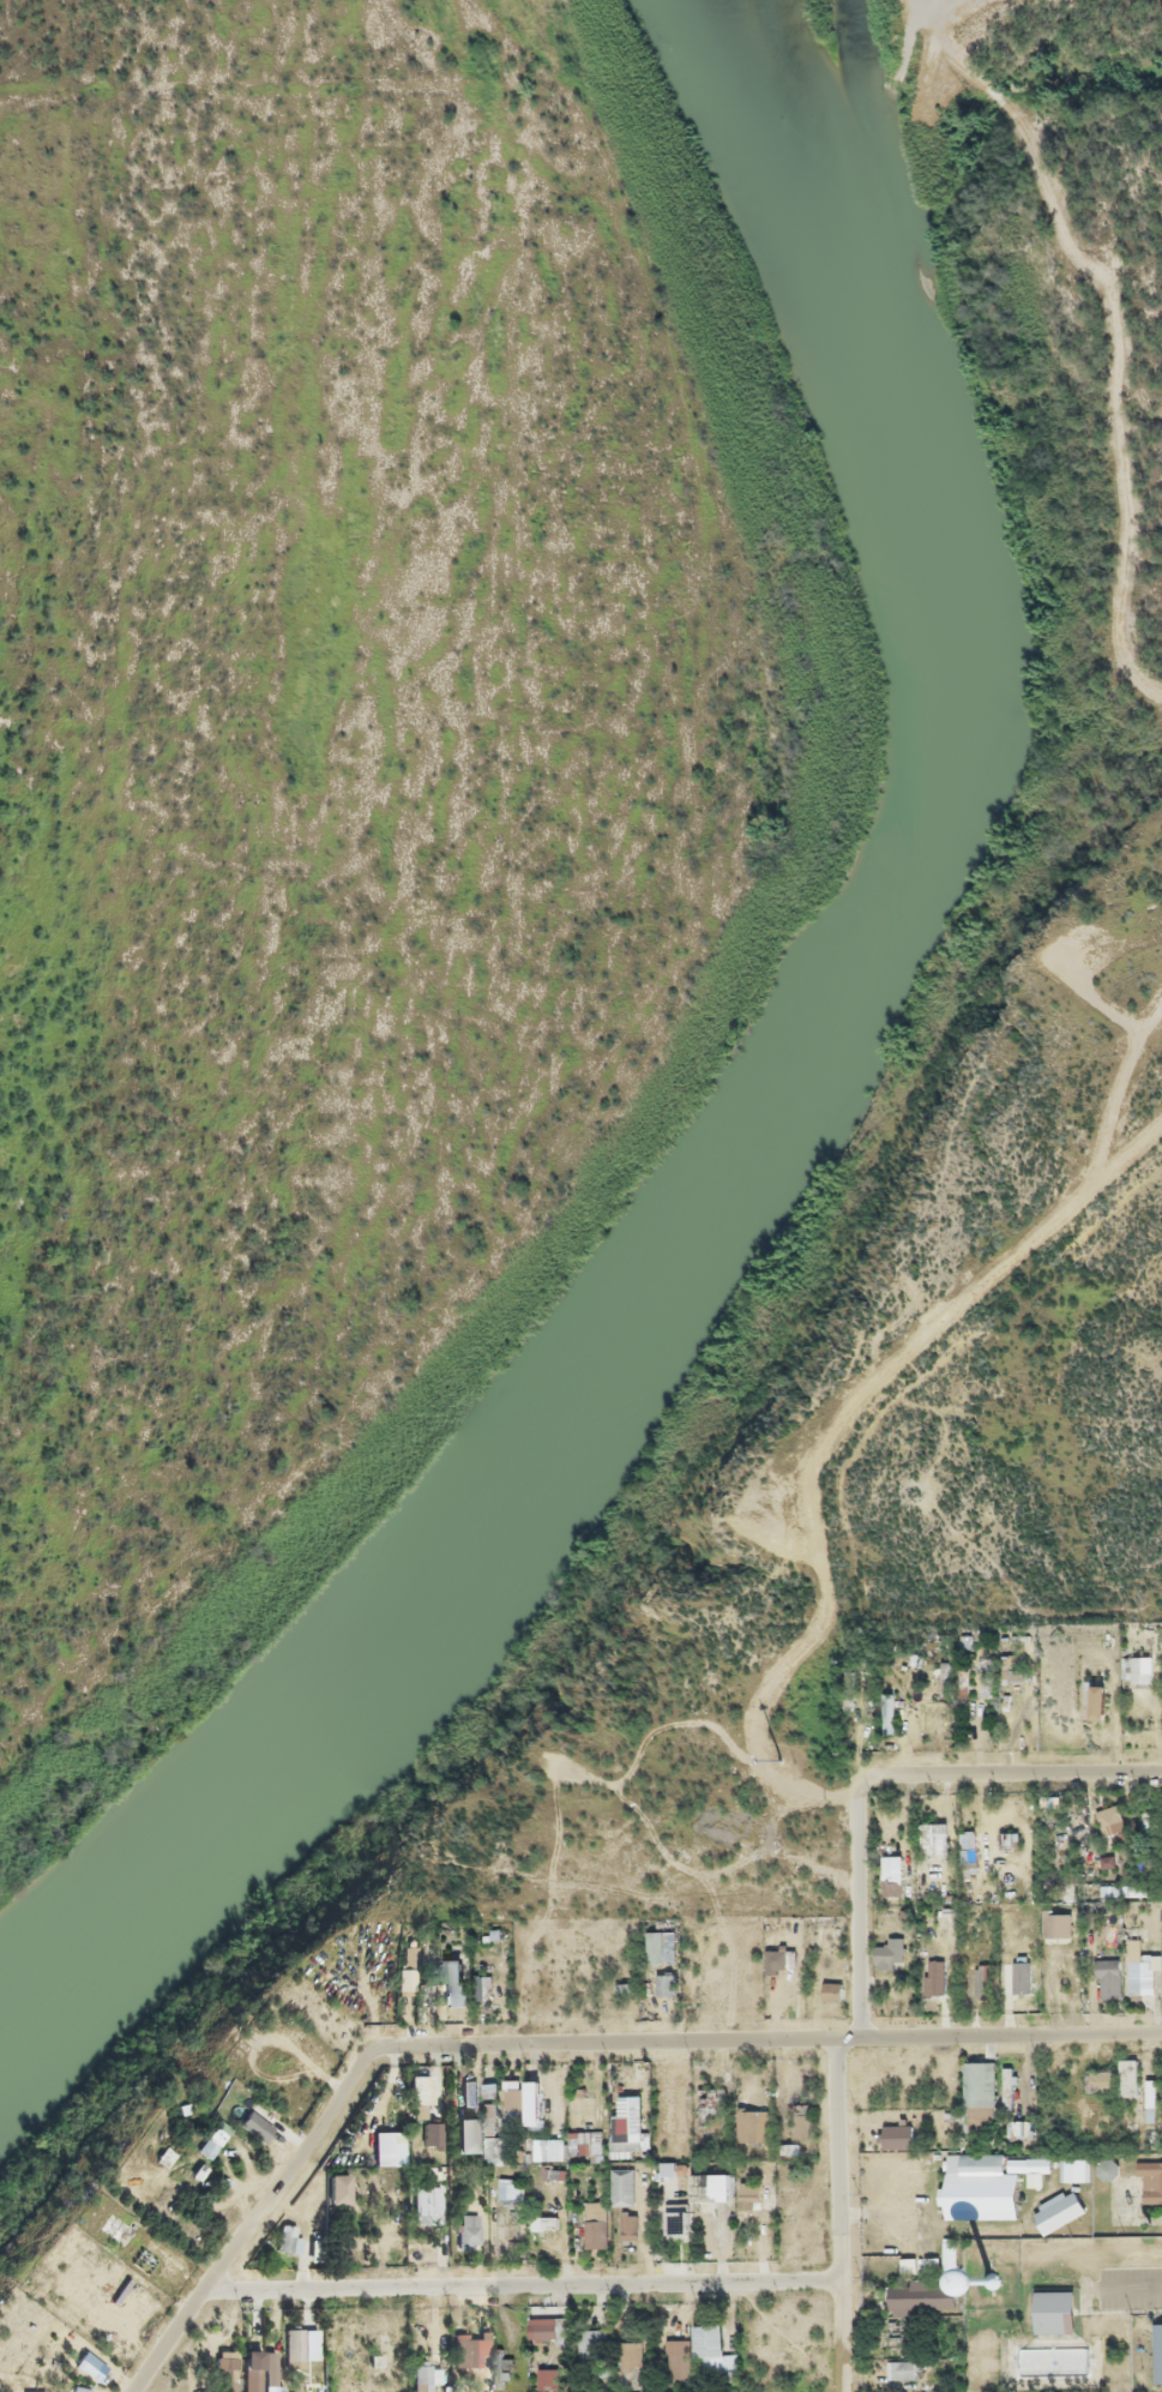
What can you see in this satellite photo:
river: (868, 972)
building: (1092, 1697)
building: (889, 1714)
road: (1010, 1769)
building: (1112, 1820)
building: (934, 1838)
building: (1009, 1838)
building: (967, 1845)
building: (892, 1867)
road: (862, 1910)
river: (121, 1915)
building: (1058, 1922)
building: (892, 1949)
building: (1070, 1975)
building: (1145, 1975)
building: (937, 1976)
building: (1022, 1976)
building: (1109, 1977)
building: (454, 1978)
building: (986, 1979)
building: (668, 1984)
building: (420, 1989)
building: (833, 1991)
road: (758, 2036)
building: (1128, 2075)
building: (1100, 2079)
building: (980, 2083)
building: (416, 2086)
building: (492, 2087)
building: (469, 2092)
building: (532, 2099)
building: (711, 2099)
building: (681, 2103)
building: (240, 2116)
building: (495, 2117)
building: (754, 2124)
building: (627, 2129)
building: (429, 2130)
building: (460, 2130)
building: (898, 2135)
building: (584, 2140)
building: (384, 2142)
building: (552, 2148)
building: (1074, 2172)
building: (1152, 2176)
building: (712, 2184)
building: (626, 2187)
building: (980, 2188)
building: (749, 2193)
building: (423, 2201)
building: (1059, 2210)
road: (844, 2213)
road: (248, 2219)
building: (680, 2223)
building: (597, 2224)
building: (547, 2225)
building: (631, 2225)
building: (465, 2229)
building: (287, 2236)
water tower: (971, 2250)
water tower: (973, 2252)
water tower: (995, 2279)
road: (528, 2280)
building: (923, 2297)
building: (1055, 2308)
building: (547, 2326)
building: (299, 2340)
building: (709, 2343)
building: (1158, 2349)
building: (469, 2350)
building: (615, 2355)
building: (681, 2358)
building: (227, 2369)
building: (259, 2370)
building: (426, 2375)
building: (554, 2379)

